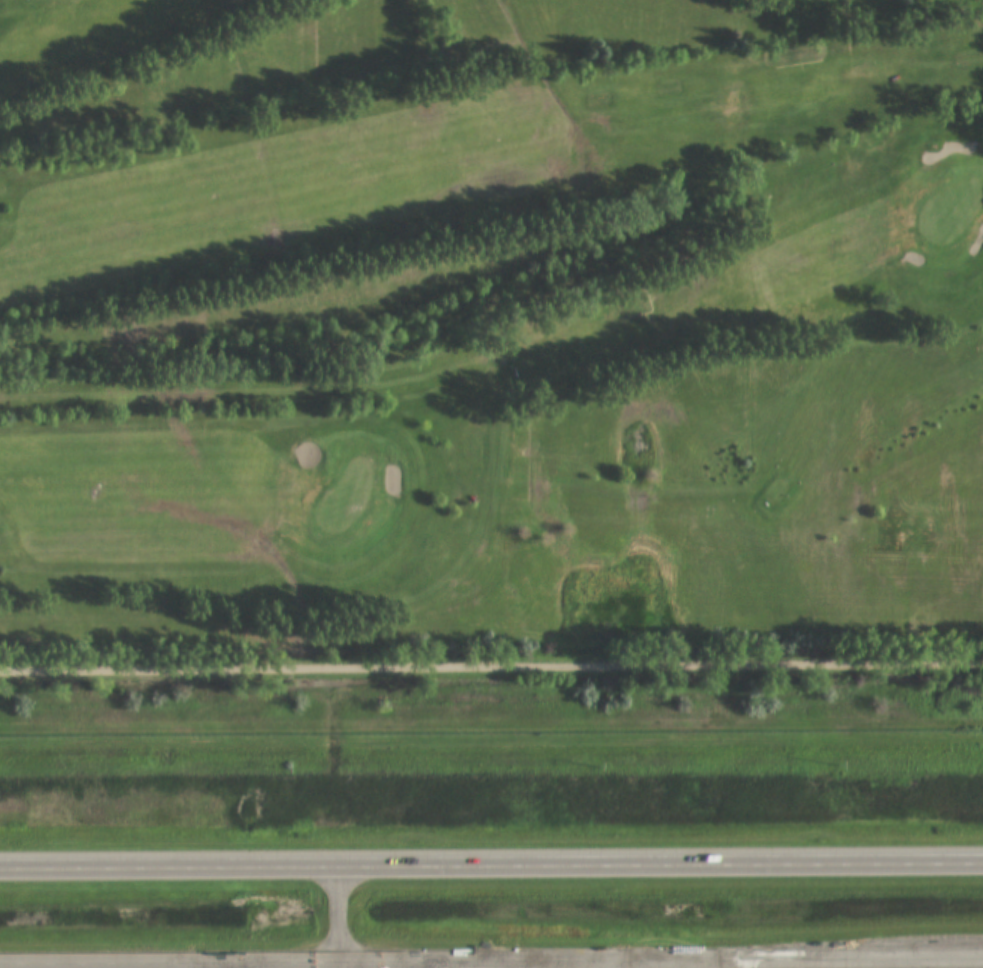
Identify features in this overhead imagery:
park: (429, 262)
road: (491, 857)
road: (491, 953)

